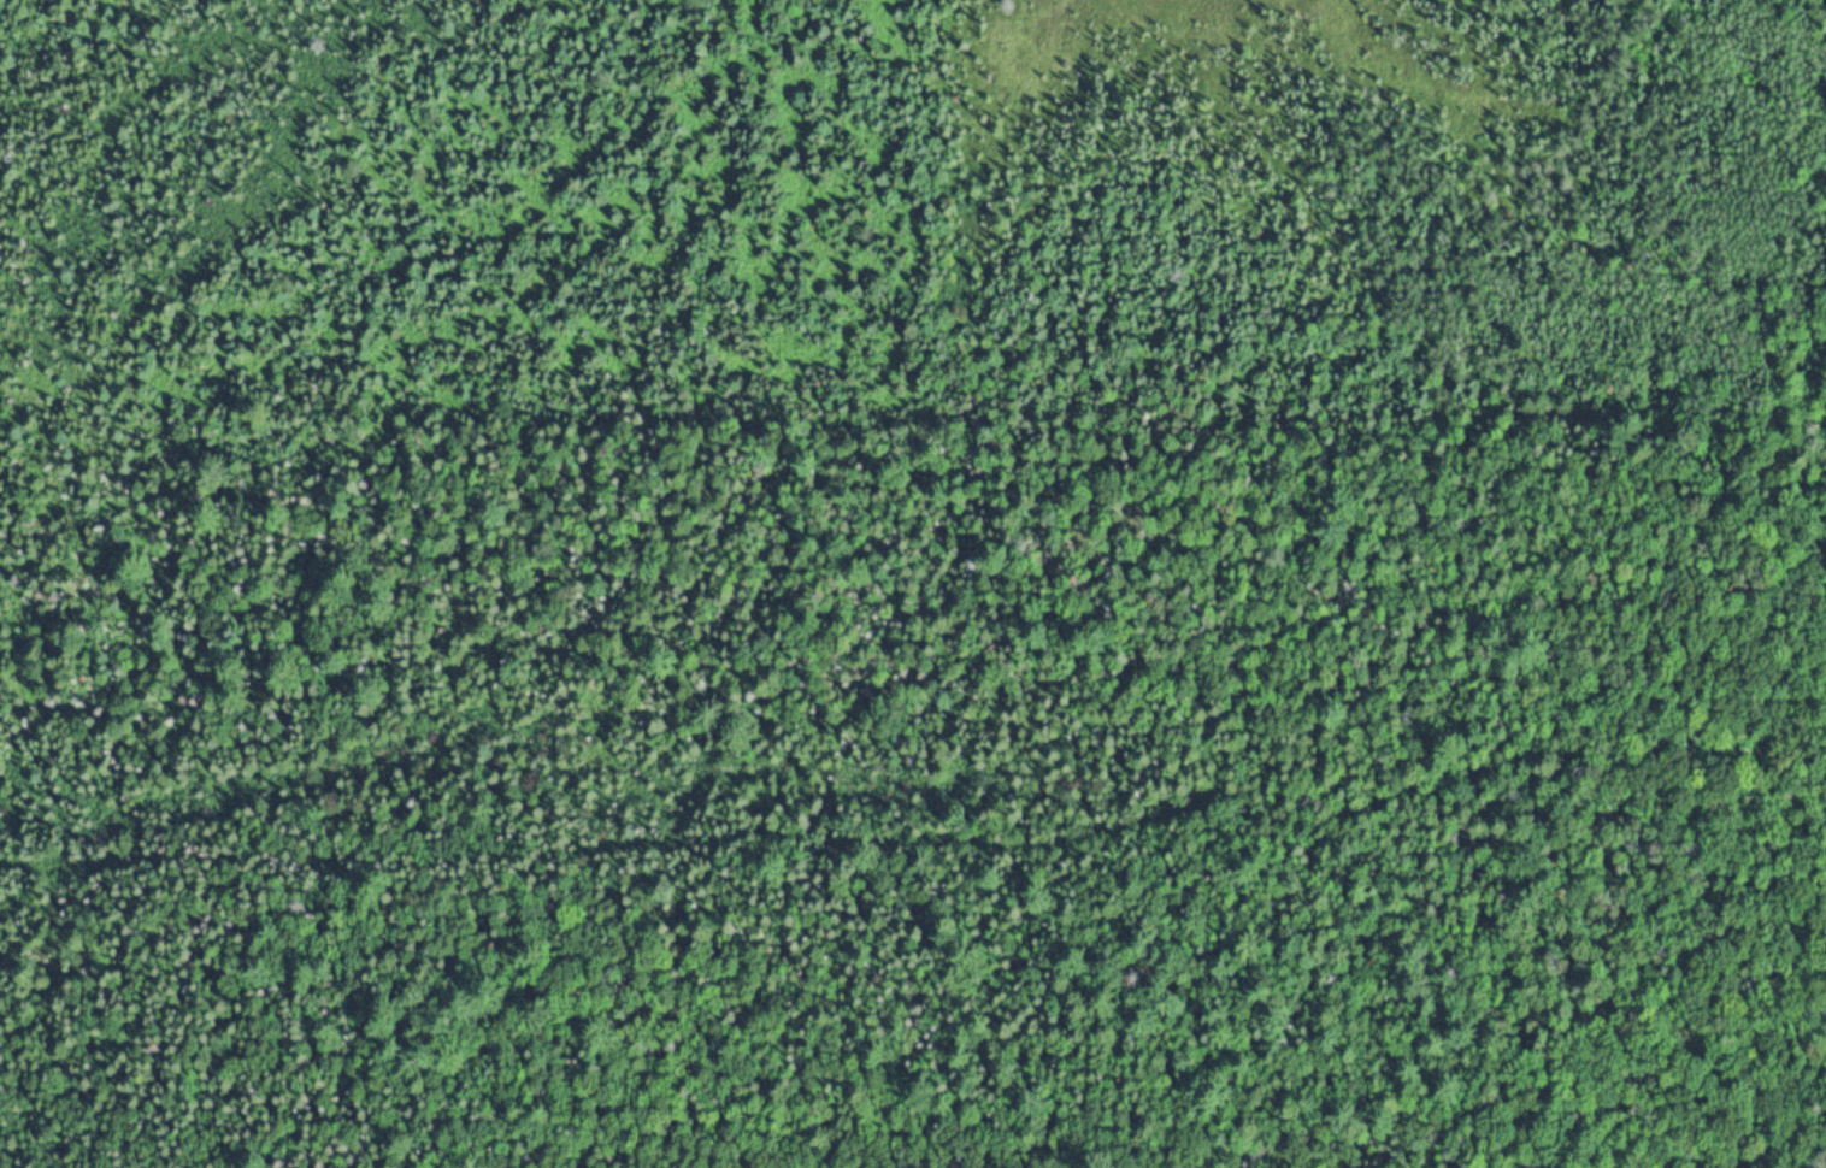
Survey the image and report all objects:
road: (1779, 1143)

